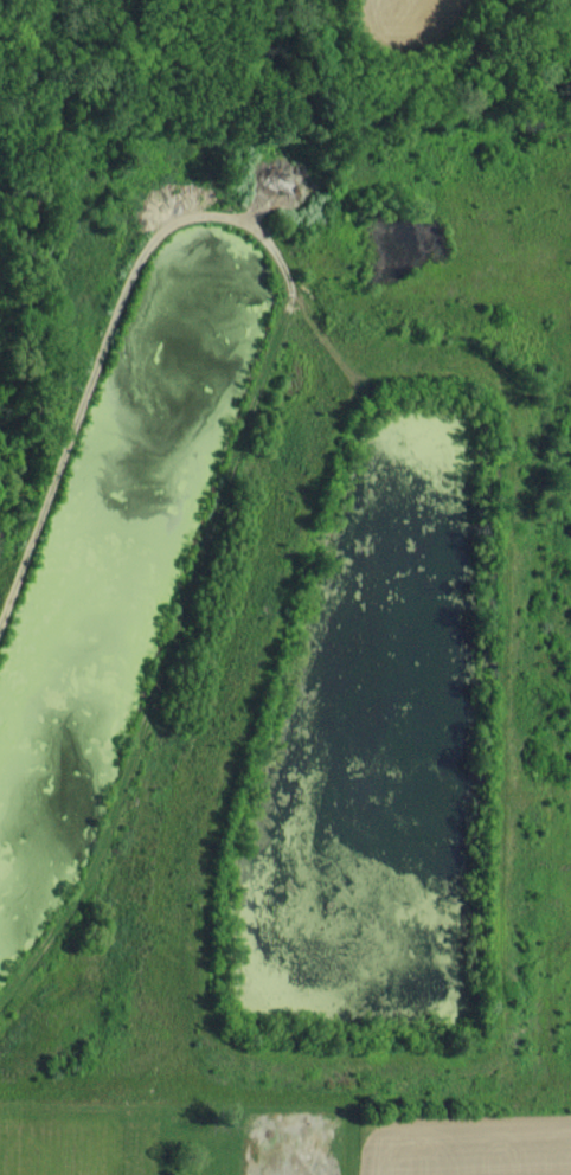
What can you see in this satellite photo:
road: (123, 289)
wastewater plant: (285, 599)

